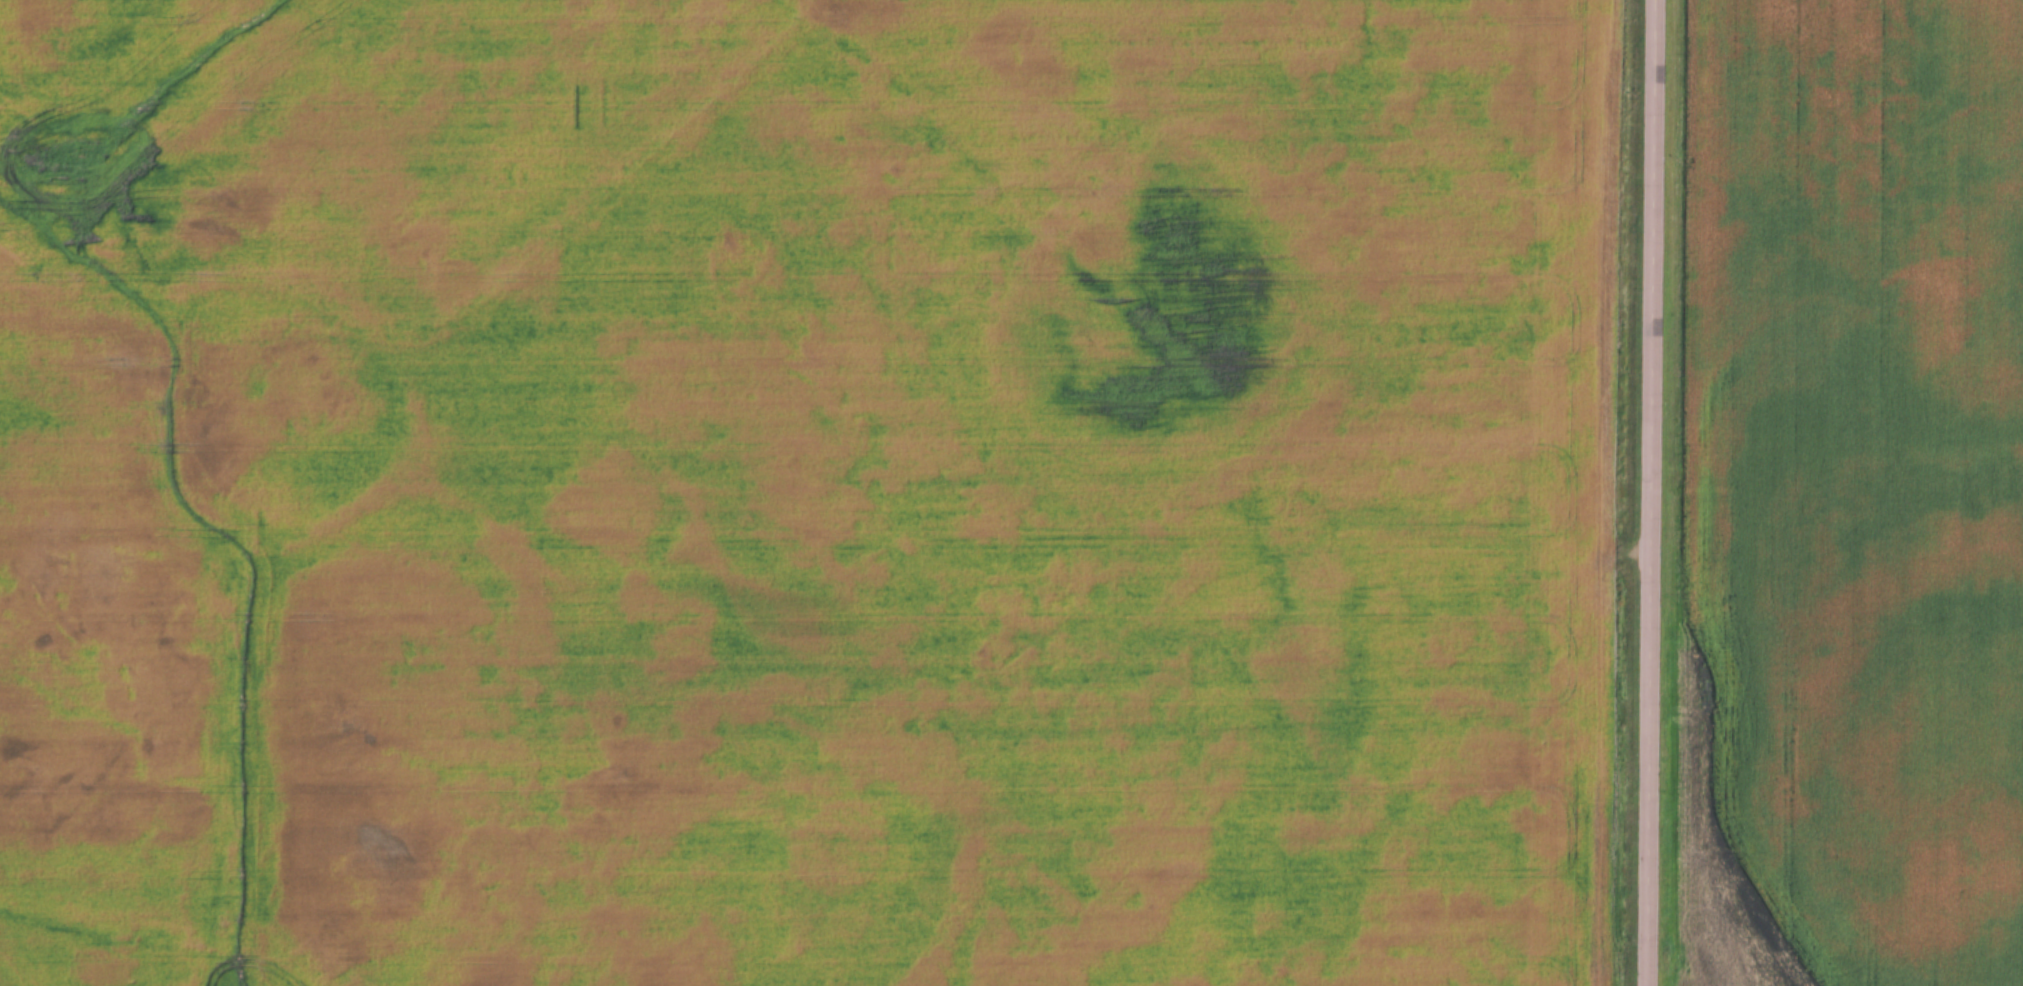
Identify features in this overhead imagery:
road: (1651, 493)

